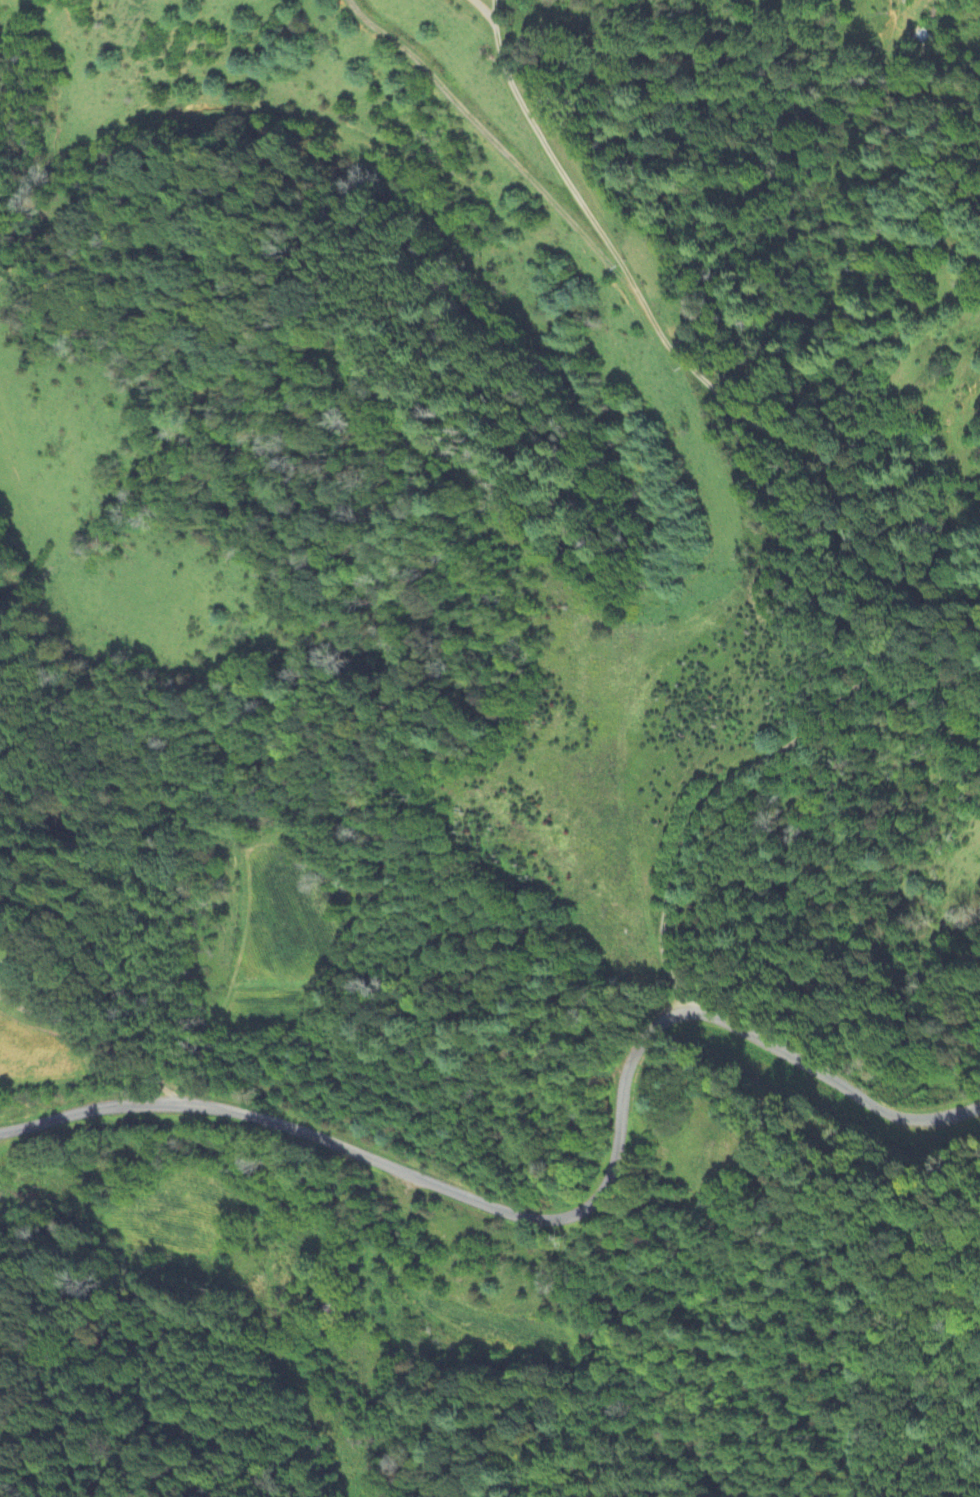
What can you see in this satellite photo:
park: (16, 975)
road: (559, 1219)

